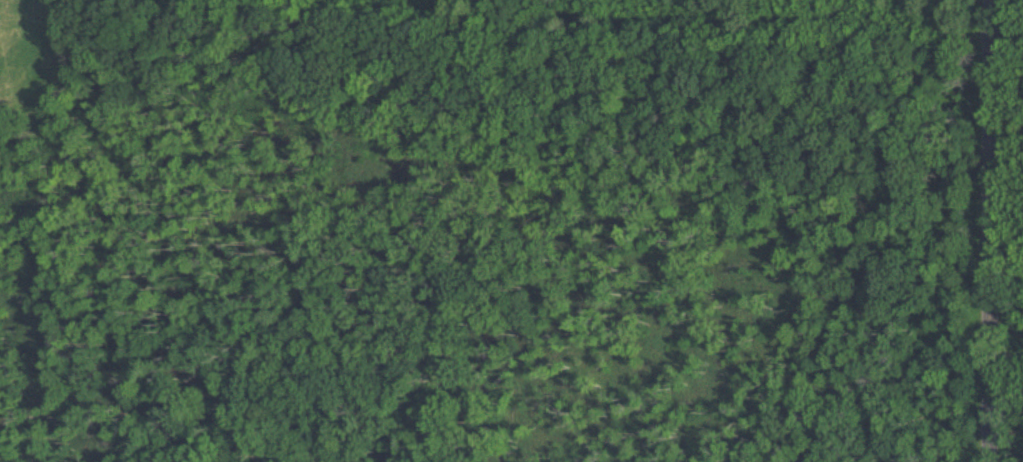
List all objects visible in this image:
road: (995, 231)

